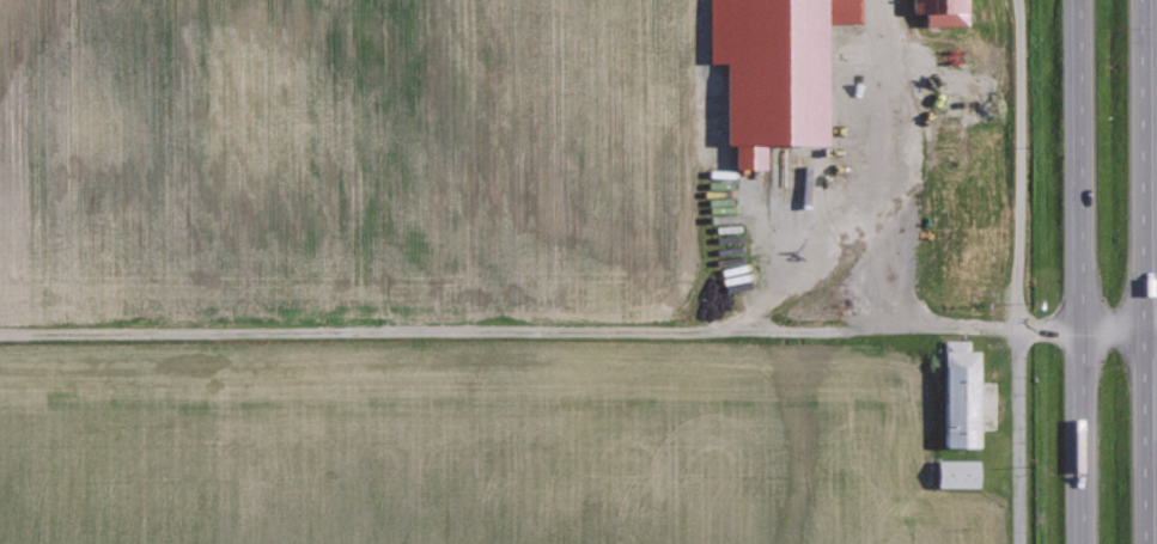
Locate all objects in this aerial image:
building: (944, 11)
building: (778, 71)
road: (883, 90)
road: (712, 148)
parking lot: (889, 158)
road: (860, 203)
road: (1017, 271)
road: (1090, 271)
road: (1141, 271)
road: (884, 324)
road: (376, 331)
road: (1086, 334)
building: (961, 395)
building: (958, 473)

